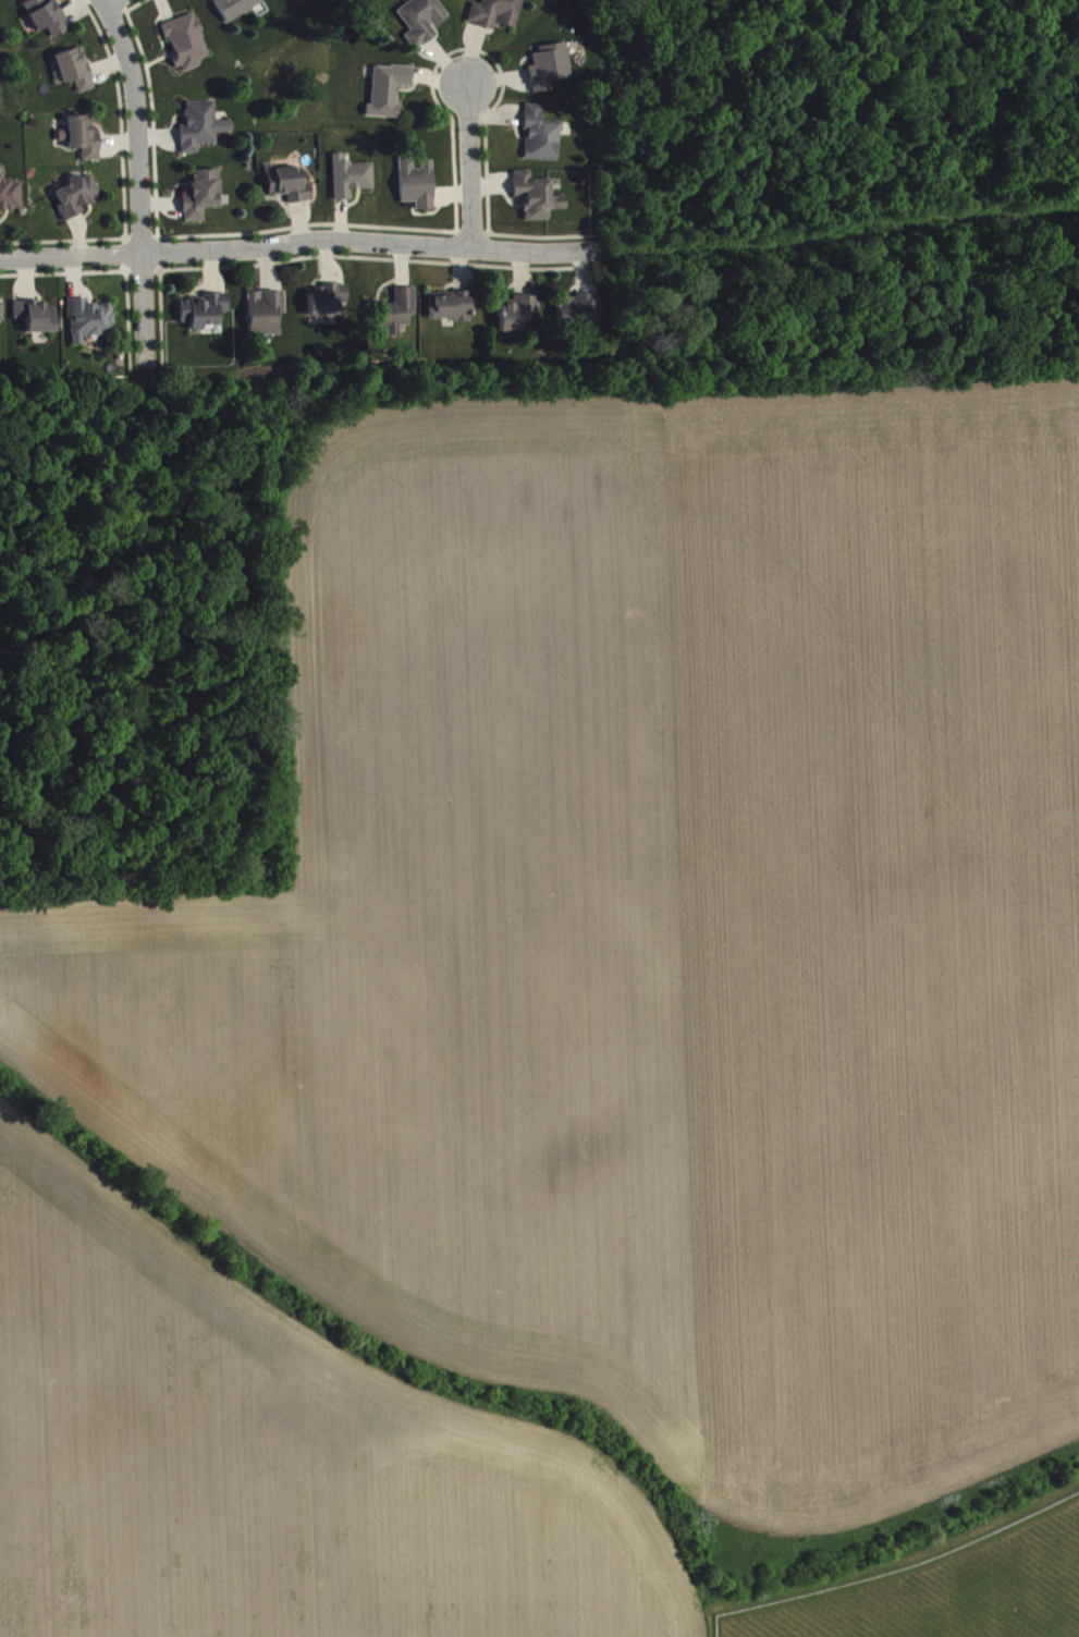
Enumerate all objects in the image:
building: (7, 1)
road: (108, 2)
building: (237, 11)
building: (498, 16)
building: (46, 22)
building: (422, 25)
building: (186, 48)
building: (550, 73)
building: (75, 75)
building: (389, 96)
building: (201, 133)
building: (542, 142)
building: (82, 144)
road: (469, 166)
building: (352, 183)
road: (136, 187)
building: (289, 191)
building: (418, 191)
building: (11, 199)
building: (201, 200)
building: (77, 201)
building: (538, 203)
road: (298, 241)
building: (328, 306)
building: (453, 311)
building: (204, 316)
building: (580, 316)
building: (1, 317)
building: (266, 318)
building: (393, 318)
building: (520, 319)
building: (35, 322)
building: (89, 326)

